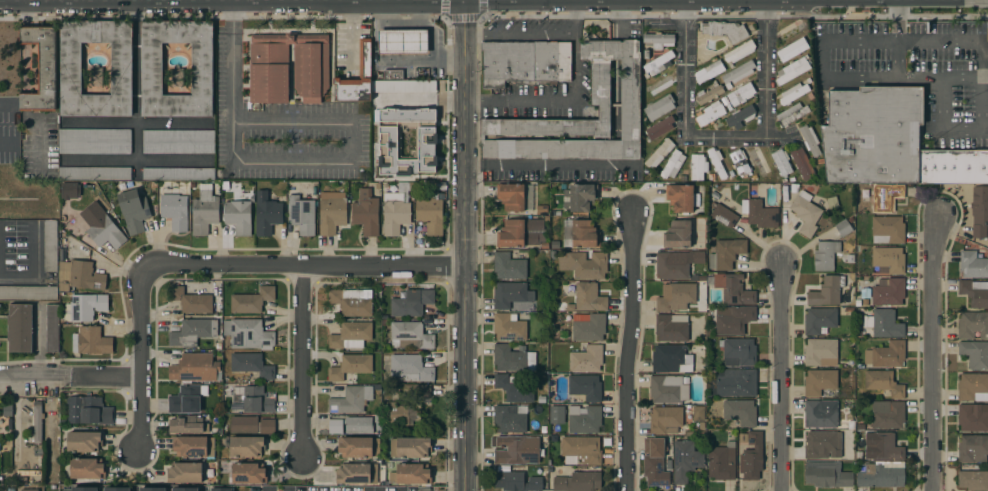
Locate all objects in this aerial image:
road: (464, 0)
road: (894, 0)
road: (940, 0)
road: (987, 0)
road: (183, 1)
road: (303, 1)
road: (421, 1)
traffic signals: (464, 1)
road: (640, 1)
road: (855, 1)
road: (69, 2)
road: (576, 21)
road: (893, 21)
building: (724, 30)
building: (790, 33)
building: (658, 40)
road: (857, 40)
road: (937, 41)
building: (403, 42)
gas station: (403, 42)
building: (792, 50)
building: (740, 51)
building: (365, 58)
road: (227, 59)
road: (822, 59)
road: (893, 59)
building: (525, 62)
building: (659, 63)
building: (288, 67)
building: (41, 68)
road: (577, 68)
building: (70, 69)
building: (151, 69)
parking lot: (913, 69)
building: (792, 70)
building: (709, 71)
building: (738, 73)
building: (392, 75)
building: (95, 76)
building: (177, 77)
road: (906, 78)
building: (808, 80)
road: (136, 83)
building: (600, 83)
building: (659, 85)
road: (982, 87)
building: (710, 93)
building: (793, 93)
building: (741, 94)
building: (810, 96)
building: (403, 101)
road: (4, 104)
building: (659, 107)
building: (709, 114)
building: (791, 114)
building: (741, 116)
road: (135, 122)
building: (396, 122)
road: (945, 127)
building: (659, 128)
building: (381, 132)
road: (726, 136)
building: (873, 136)
building: (810, 140)
building: (94, 141)
building: (178, 141)
road: (6, 142)
building: (659, 154)
road: (350, 160)
building: (384, 162)
building: (716, 162)
building: (740, 162)
building: (758, 162)
building: (782, 163)
building: (801, 163)
road: (140, 164)
road: (548, 165)
building: (673, 165)
building: (430, 166)
building: (698, 166)
building: (953, 167)
building: (95, 173)
building: (731, 173)
building: (178, 174)
building: (776, 177)
building: (711, 178)
building: (755, 178)
building: (792, 180)
building: (185, 184)
building: (224, 186)
building: (563, 187)
building: (794, 189)
building: (69, 190)
building: (187, 190)
building: (784, 193)
building: (699, 195)
building: (511, 196)
building: (715, 196)
building: (580, 197)
building: (680, 198)
building: (885, 199)
building: (832, 203)
building: (174, 209)
building: (133, 210)
building: (204, 210)
building: (979, 211)
building: (366, 212)
building: (805, 212)
building: (267, 213)
building: (395, 213)
building: (545, 213)
building: (558, 213)
building: (759, 213)
building: (430, 214)
building: (238, 215)
building: (301, 215)
building: (332, 215)
building: (723, 215)
building: (851, 220)
building: (843, 227)
building: (889, 228)
building: (104, 231)
building: (521, 233)
building: (584, 234)
building: (677, 234)
building: (50, 245)
road: (465, 245)
building: (553, 245)
building: (544, 246)
road: (37, 250)
building: (726, 253)
building: (552, 255)
building: (825, 255)
building: (850, 259)
building: (888, 259)
building: (584, 264)
building: (676, 264)
building: (973, 265)
building: (508, 266)
road: (308, 267)
building: (79, 275)
road: (19, 278)
building: (733, 289)
building: (826, 291)
building: (28, 292)
building: (888, 292)
building: (974, 292)
building: (864, 293)
building: (511, 294)
building: (676, 296)
building: (589, 297)
building: (190, 300)
building: (252, 300)
building: (352, 301)
building: (411, 302)
building: (84, 307)
building: (569, 308)
building: (848, 311)
building: (733, 319)
building: (819, 320)
building: (884, 323)
building: (973, 324)
building: (588, 326)
building: (19, 327)
building: (509, 327)
building: (671, 327)
building: (52, 328)
building: (192, 332)
building: (247, 333)
building: (859, 333)
building: (350, 335)
building: (411, 335)
building: (91, 341)
building: (543, 344)
building: (218, 346)
building: (696, 348)
road: (627, 351)
building: (738, 351)
road: (931, 351)
building: (821, 352)
building: (975, 354)
building: (886, 355)
road: (140, 357)
building: (513, 359)
building: (586, 359)
building: (671, 359)
road: (304, 361)
building: (850, 363)
building: (252, 365)
building: (860, 366)
building: (350, 367)
building: (195, 368)
building: (409, 369)
road: (780, 376)
road: (69, 380)
building: (737, 382)
building: (819, 382)
building: (884, 383)
building: (585, 387)
building: (973, 387)
building: (417, 389)
building: (514, 389)
building: (668, 389)
building: (255, 399)
building: (541, 399)
building: (185, 400)
building: (351, 400)
building: (88, 410)
building: (7, 411)
building: (740, 412)
building: (402, 413)
building: (698, 413)
building: (821, 413)
building: (888, 414)
building: (557, 415)
building: (972, 418)
building: (509, 419)
building: (584, 419)
building: (665, 420)
building: (37, 421)
building: (186, 424)
building: (251, 425)
building: (358, 425)
building: (335, 426)
building: (543, 429)
building: (84, 441)
building: (822, 444)
building: (194, 446)
building: (246, 446)
building: (358, 447)
building: (410, 447)
building: (886, 447)
building: (972, 448)
building: (516, 450)
building: (581, 450)
building: (752, 457)
building: (685, 460)
building: (2, 462)
building: (9, 462)
building: (654, 462)
building: (722, 462)
building: (87, 469)
building: (185, 473)
building: (248, 473)
building: (357, 473)
building: (411, 474)
building: (827, 474)
building: (881, 474)
building: (973, 480)
building: (516, 481)
building: (577, 482)
building: (7, 489)
building: (85, 489)
building: (118, 489)
building: (153, 489)
building: (185, 489)
building: (221, 489)
building: (29, 490)

